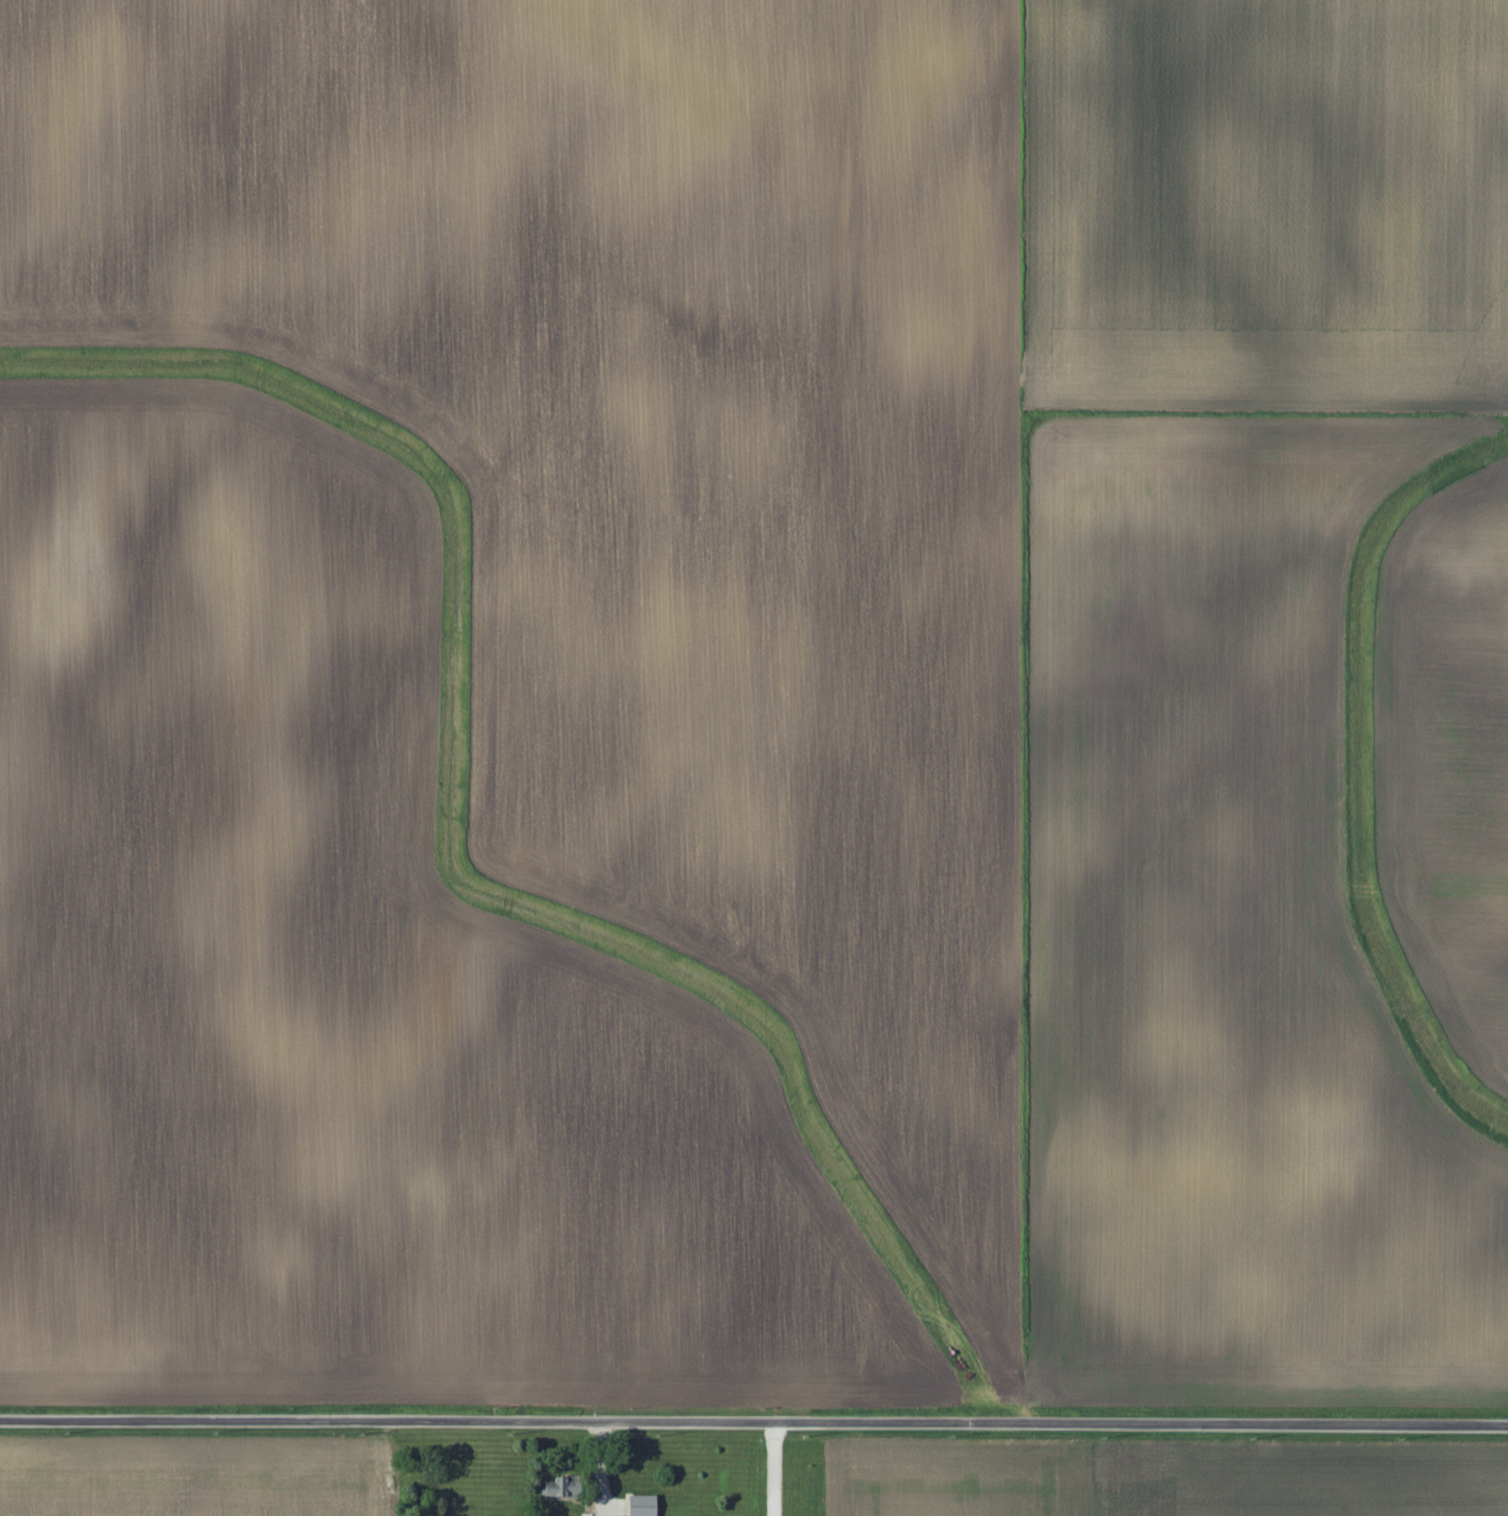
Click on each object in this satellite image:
road: (753, 1422)
road: (773, 1469)
road: (595, 1470)

